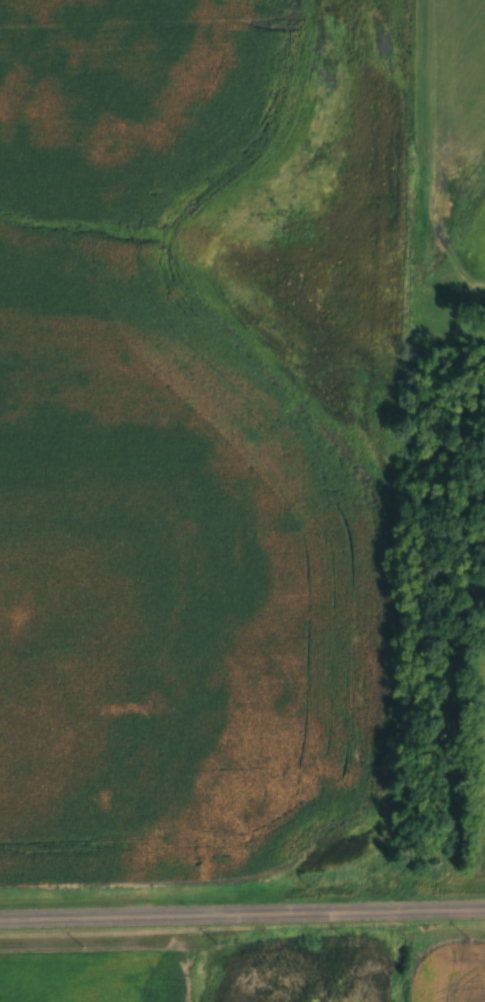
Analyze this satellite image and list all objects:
road: (242, 907)

